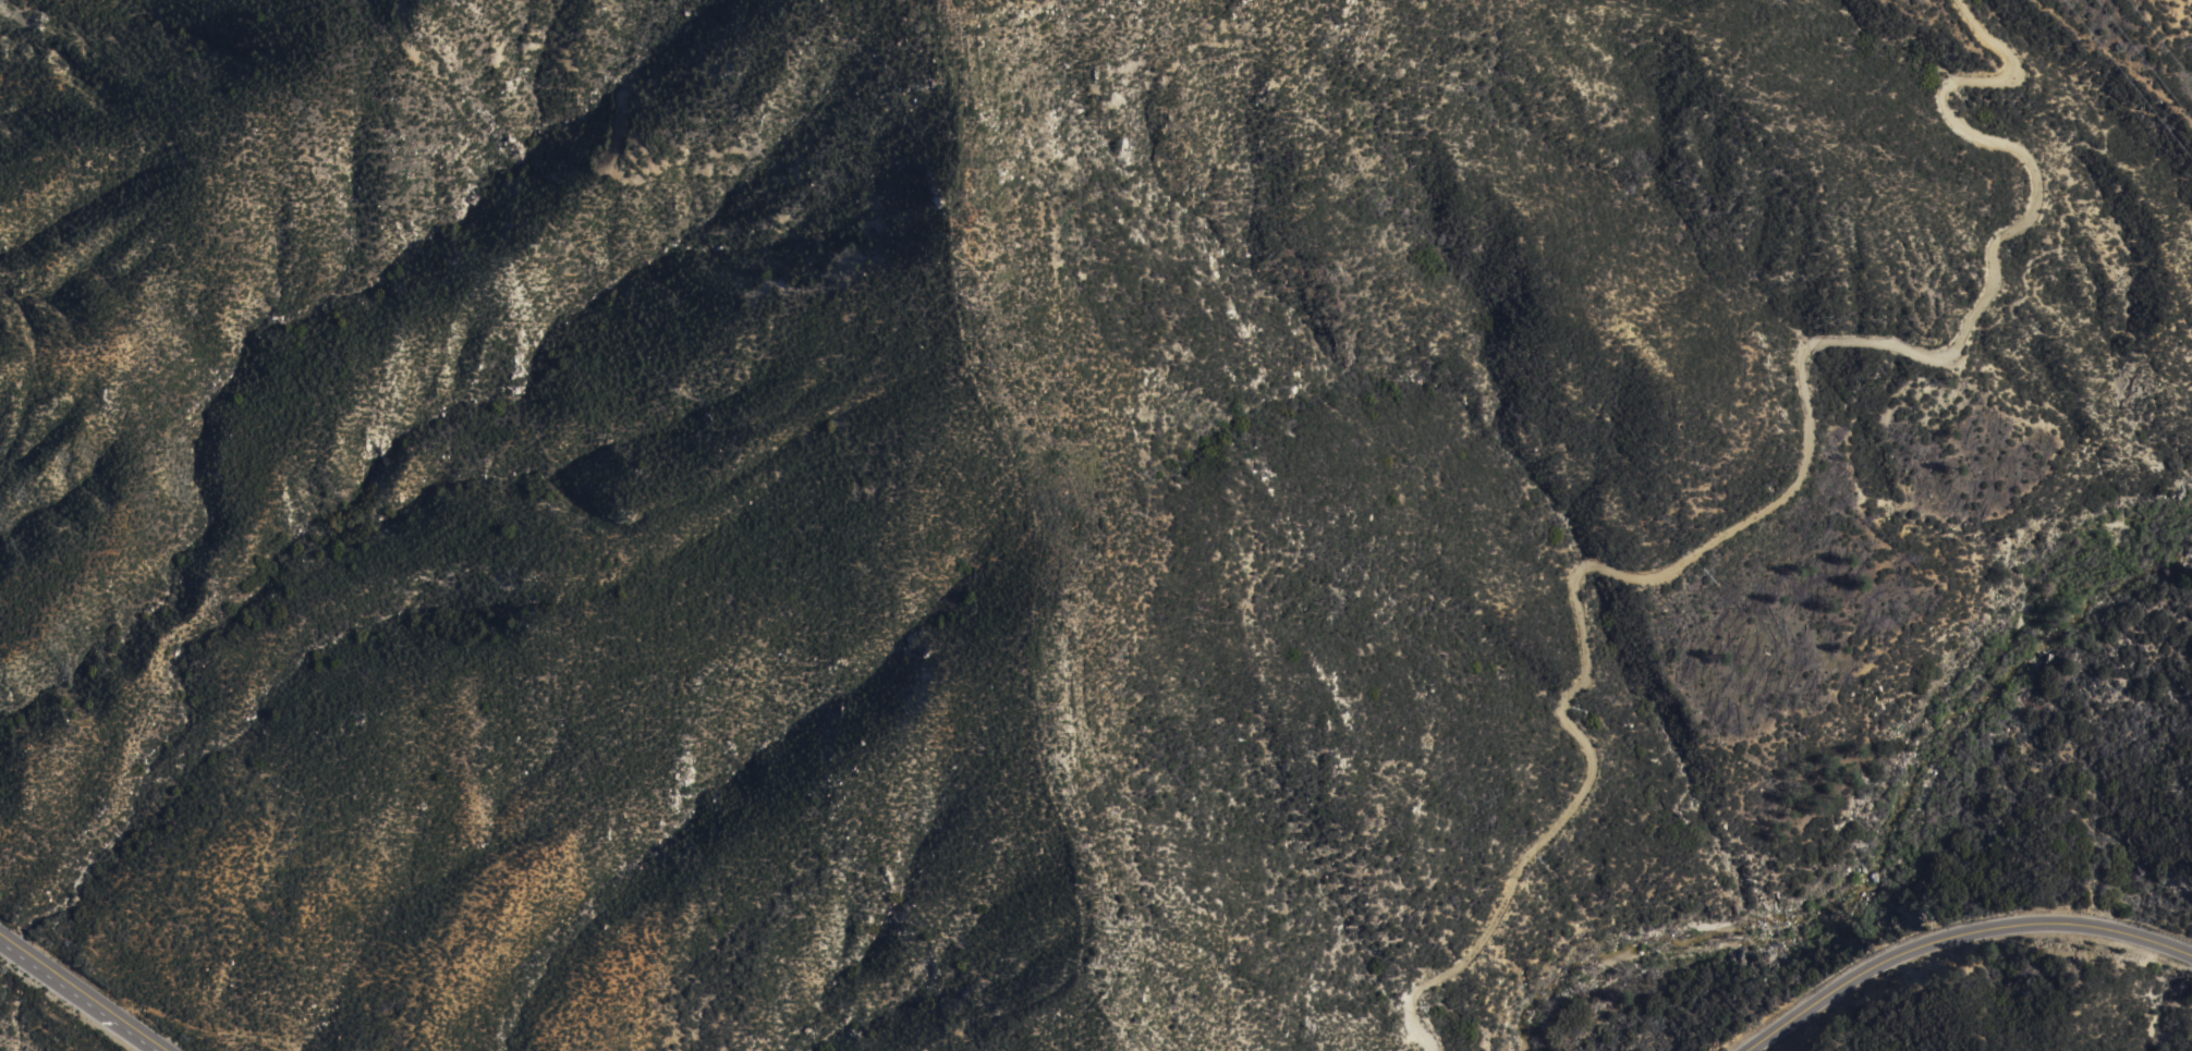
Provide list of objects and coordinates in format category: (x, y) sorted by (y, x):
road: (2045, 467)
road: (1776, 499)
road: (1747, 735)
road: (1957, 937)
road: (83, 994)

